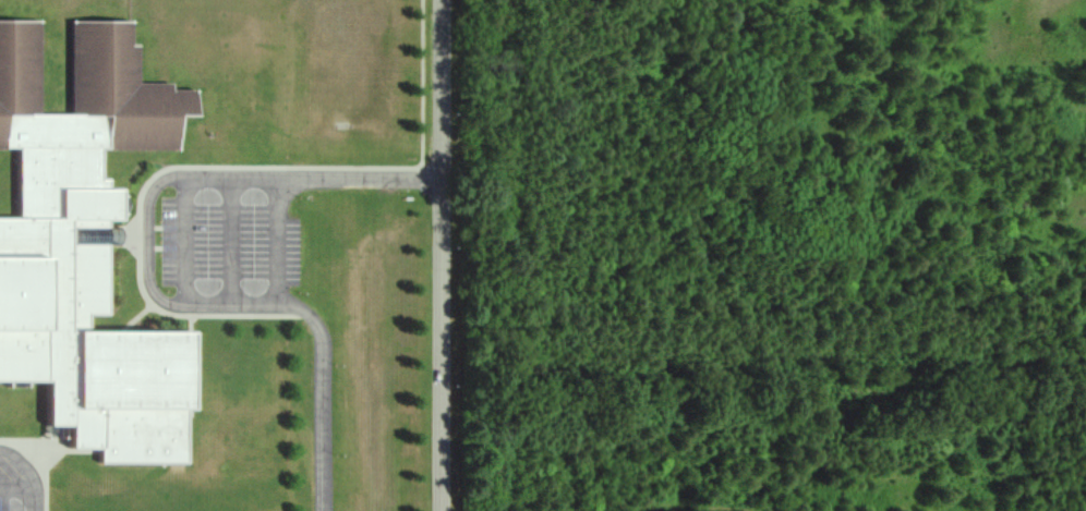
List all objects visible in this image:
road: (177, 242)
parking lot: (221, 242)
road: (275, 242)
road: (225, 243)
building: (86, 245)
road: (443, 255)
road: (148, 276)
park: (763, 447)
road: (24, 490)
road: (596, 503)

